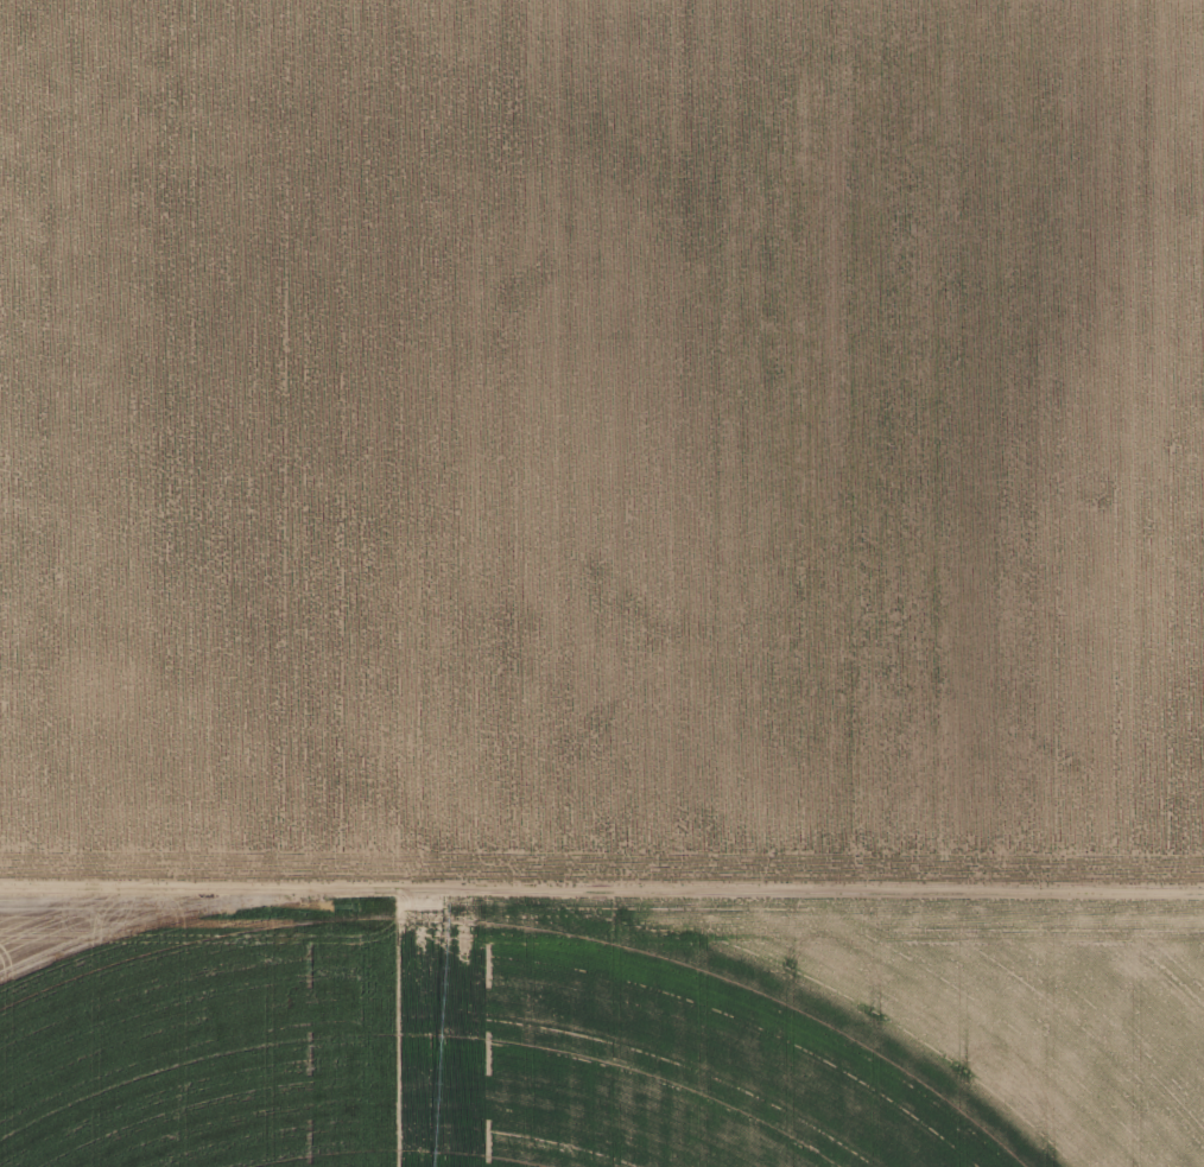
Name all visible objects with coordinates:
road: (602, 884)

